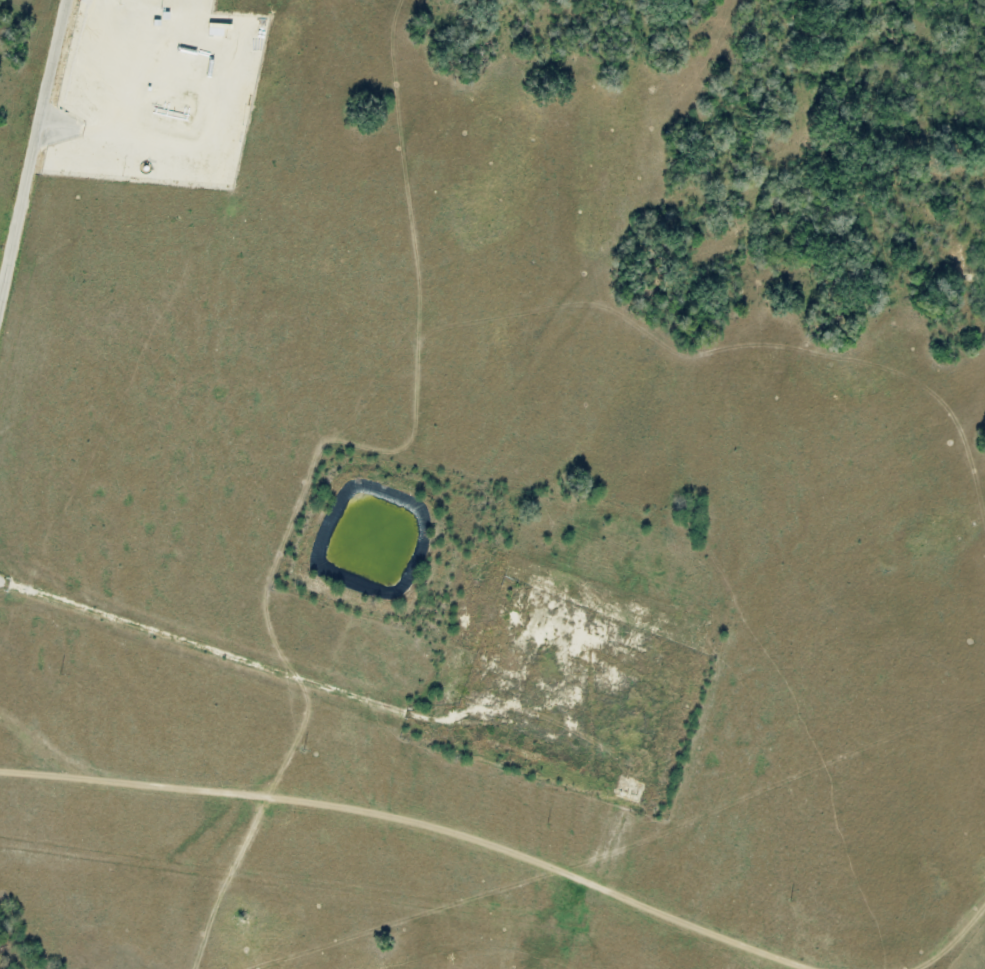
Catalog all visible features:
road: (35, 161)
road: (423, 643)

